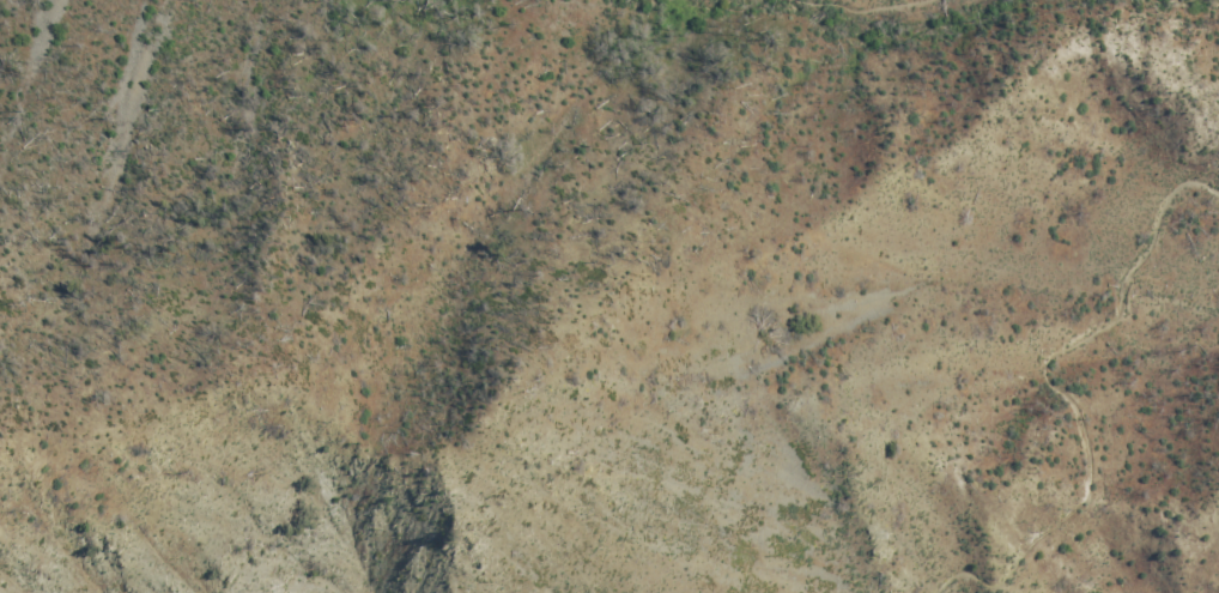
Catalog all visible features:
road: (866, 10)
road: (1060, 391)

